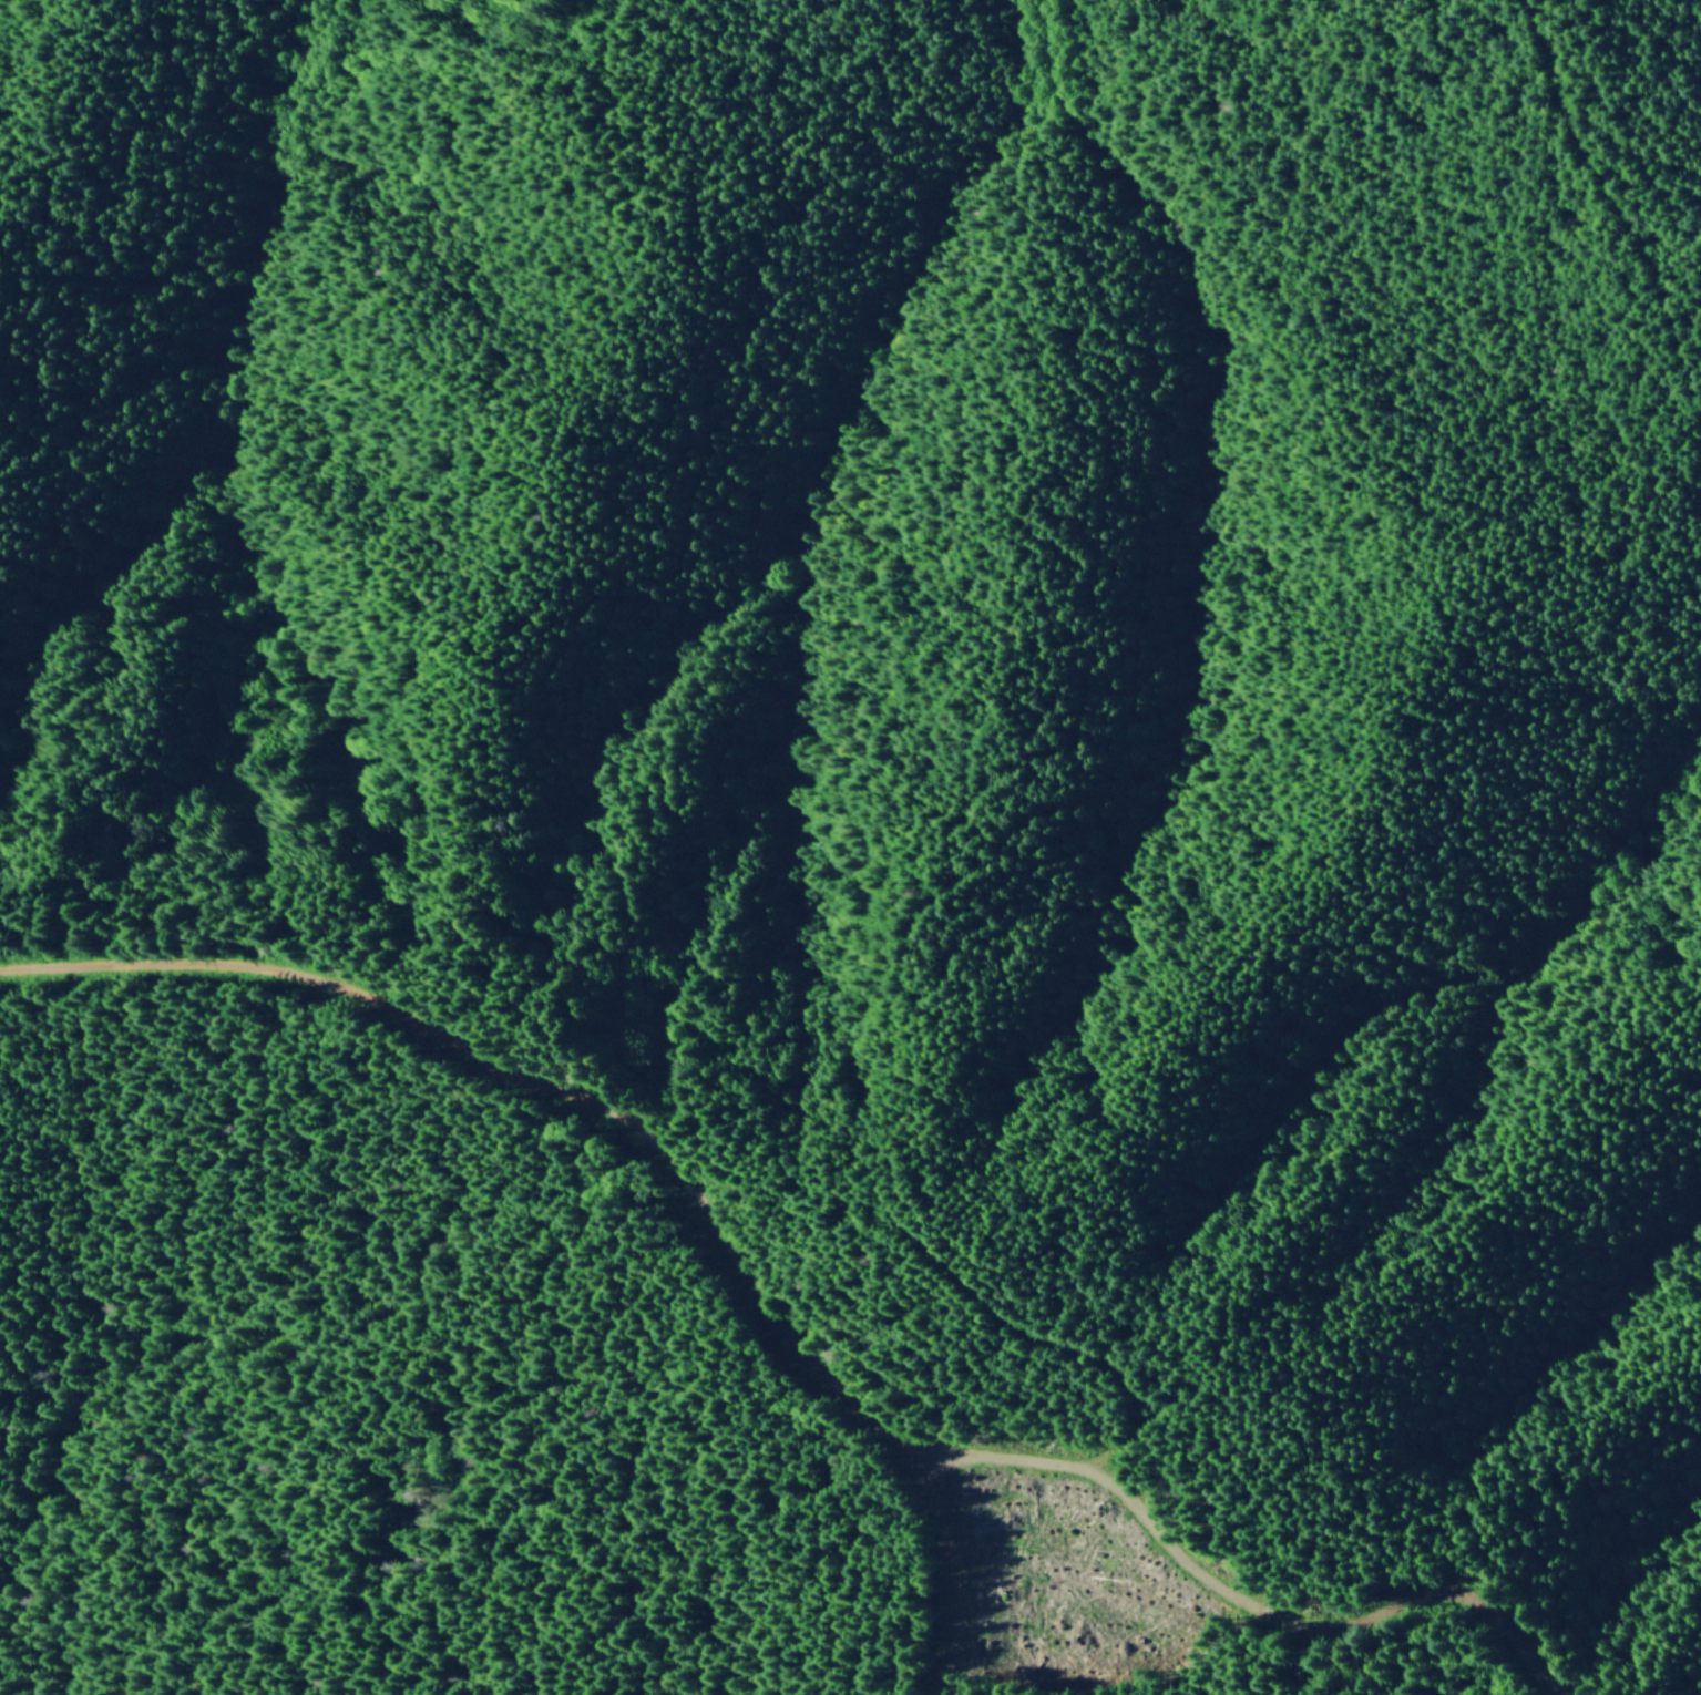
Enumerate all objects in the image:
railway: (1570, 55)

